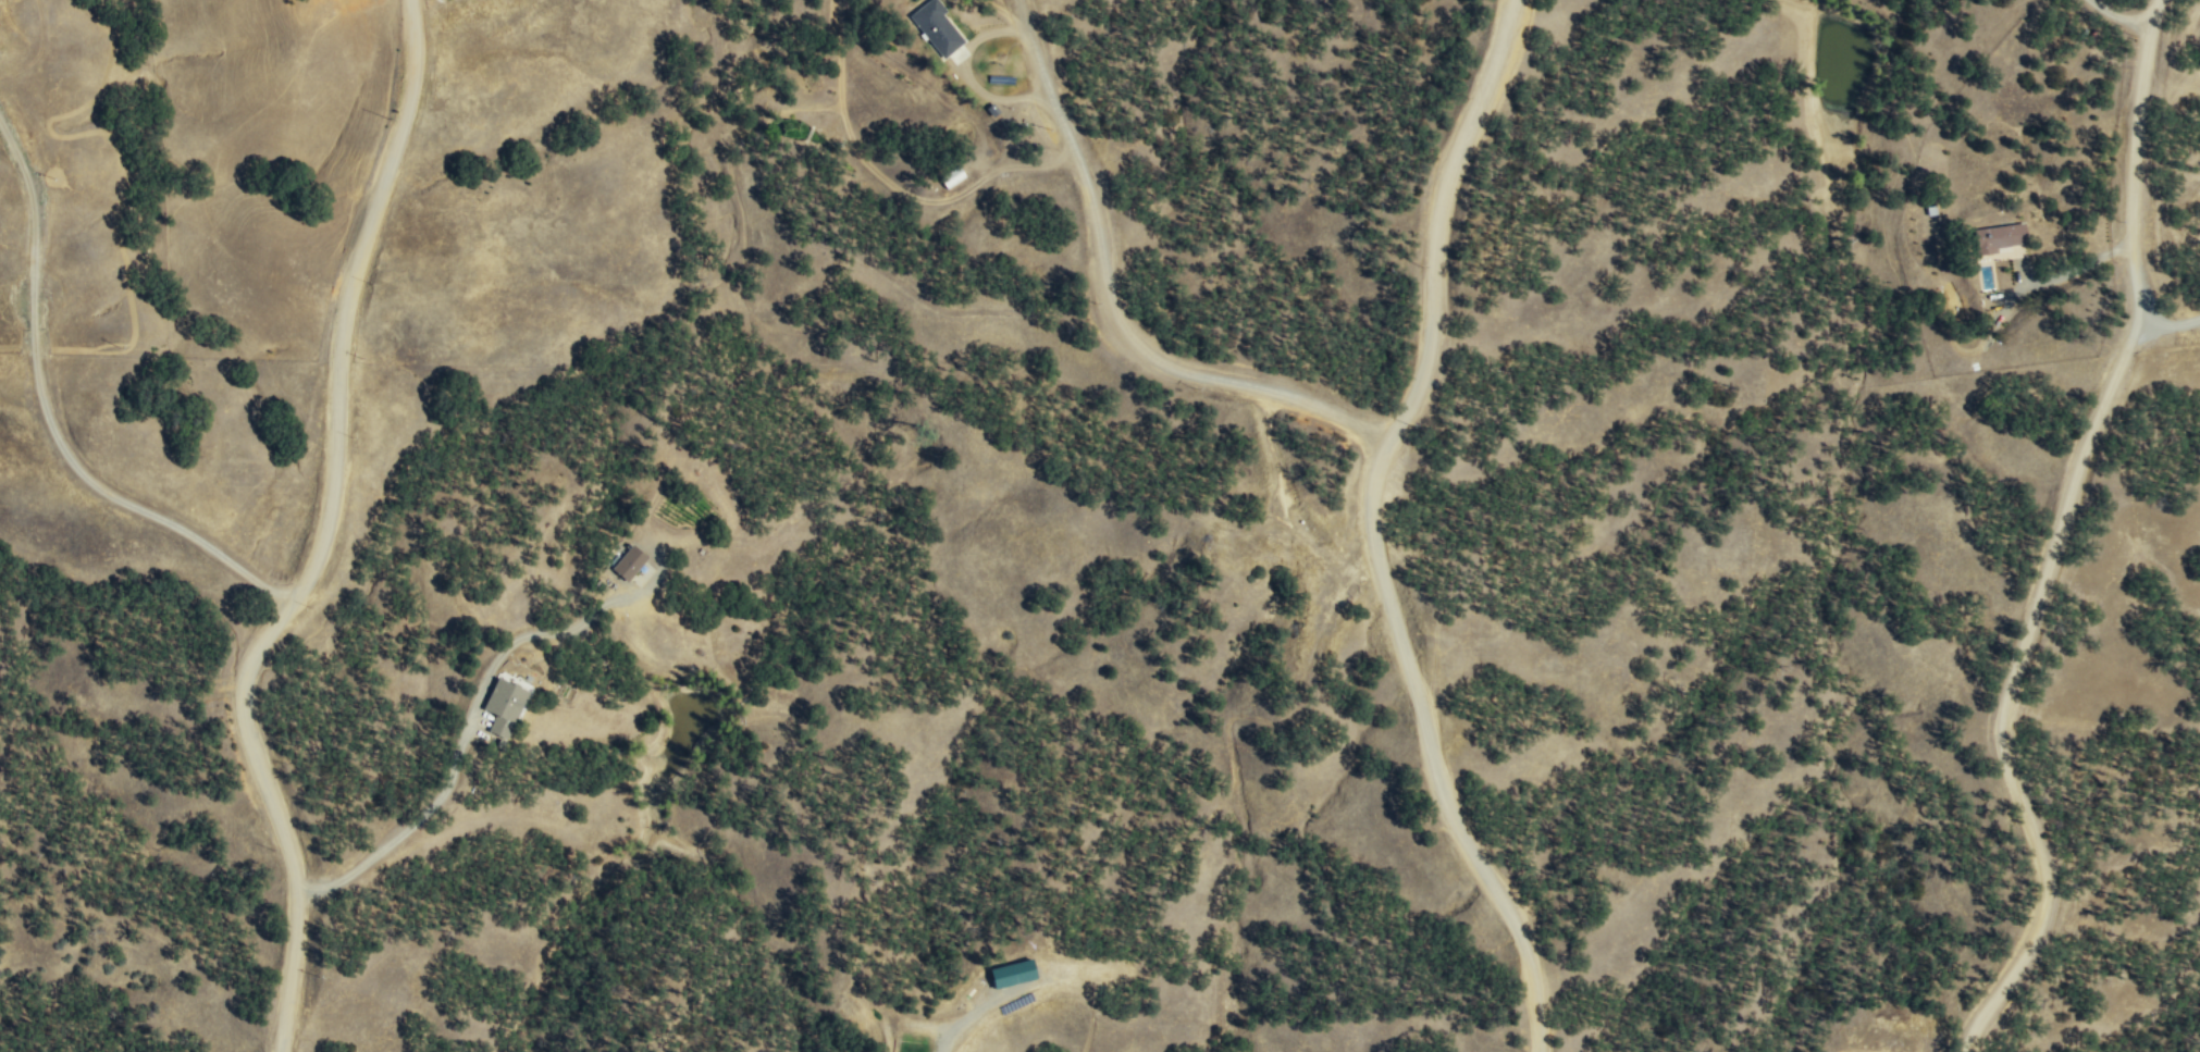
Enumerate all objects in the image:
building: (937, 27)
building: (2004, 236)
road: (1114, 307)
road: (55, 407)
road: (1384, 530)
road: (2066, 533)
road: (331, 534)
building: (629, 562)
building: (504, 706)
road: (467, 732)
building: (1012, 971)
building: (926, 1051)

